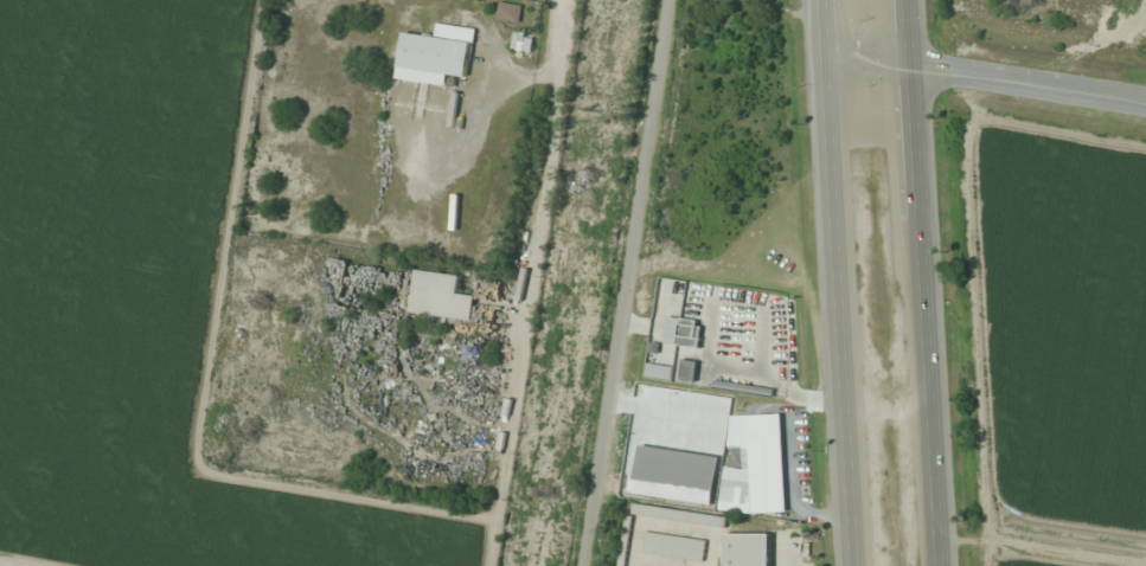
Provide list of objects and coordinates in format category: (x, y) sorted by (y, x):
building: (508, 11)
building: (521, 40)
building: (435, 52)
road: (990, 78)
road: (627, 283)
road: (847, 283)
road: (914, 283)
building: (440, 295)
building: (683, 332)
building: (687, 369)
building: (757, 465)
building: (679, 515)
building: (674, 545)
building: (747, 549)

